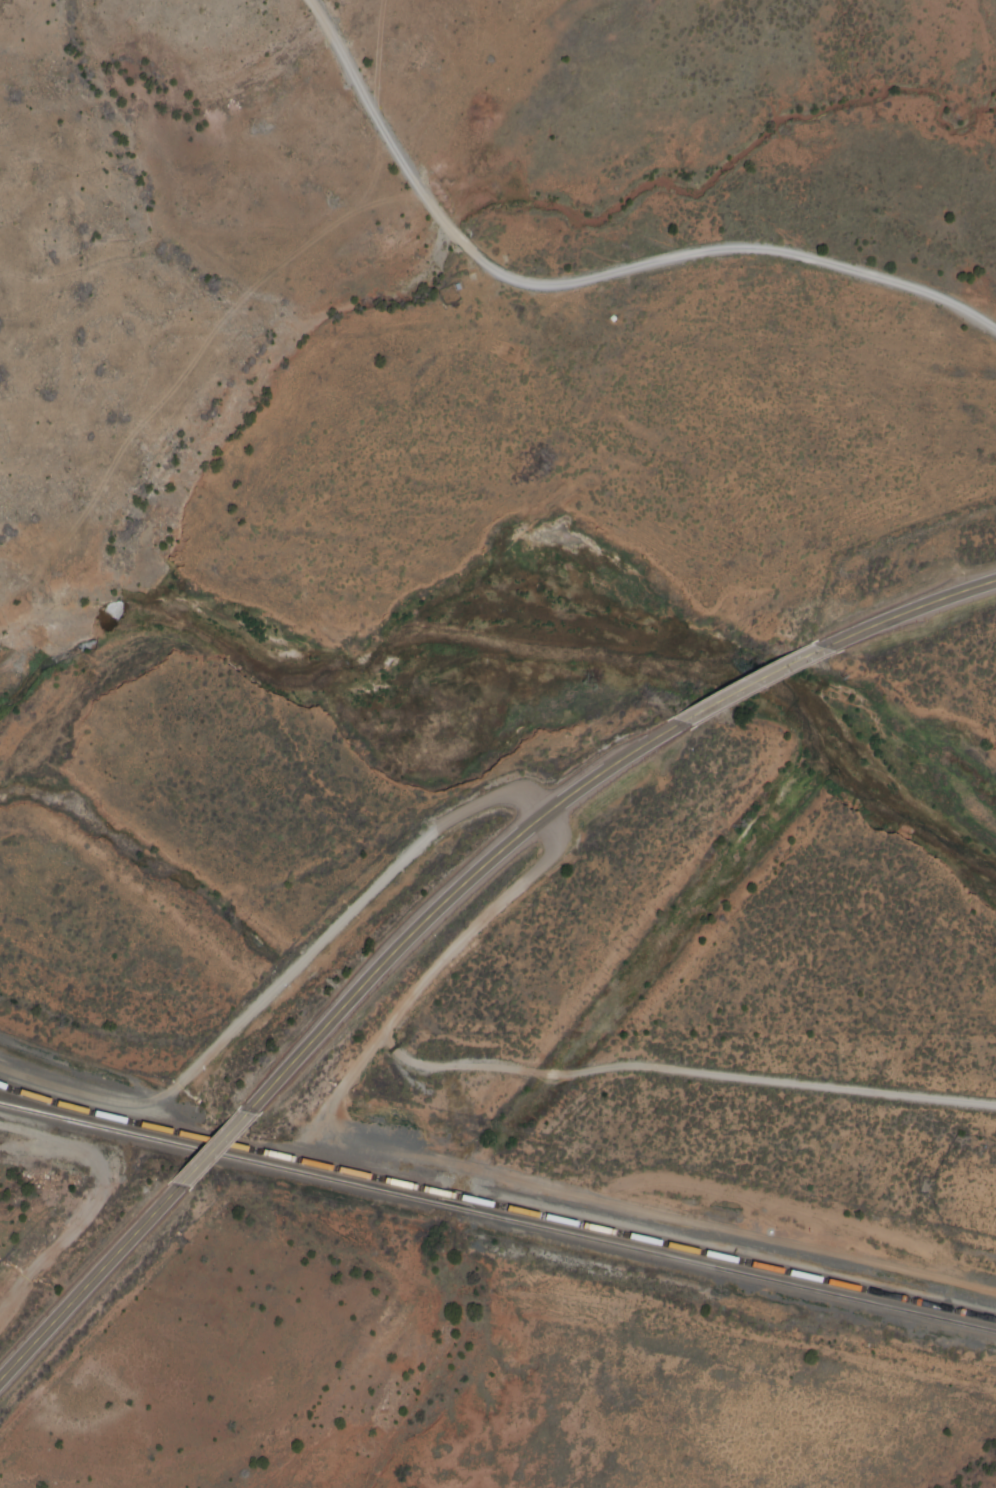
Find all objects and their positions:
road: (375, 59)
quarry: (152, 156)
road: (564, 283)
road: (977, 322)
road: (909, 609)
road: (749, 686)
road: (505, 795)
road: (441, 900)
road: (681, 1072)
railway: (216, 1142)
road: (206, 1151)
railway: (213, 1152)
road: (497, 1174)
railway: (454, 1195)
building: (457, 1199)
railway: (448, 1205)
railway: (734, 1257)
railway: (732, 1270)
road: (84, 1282)

